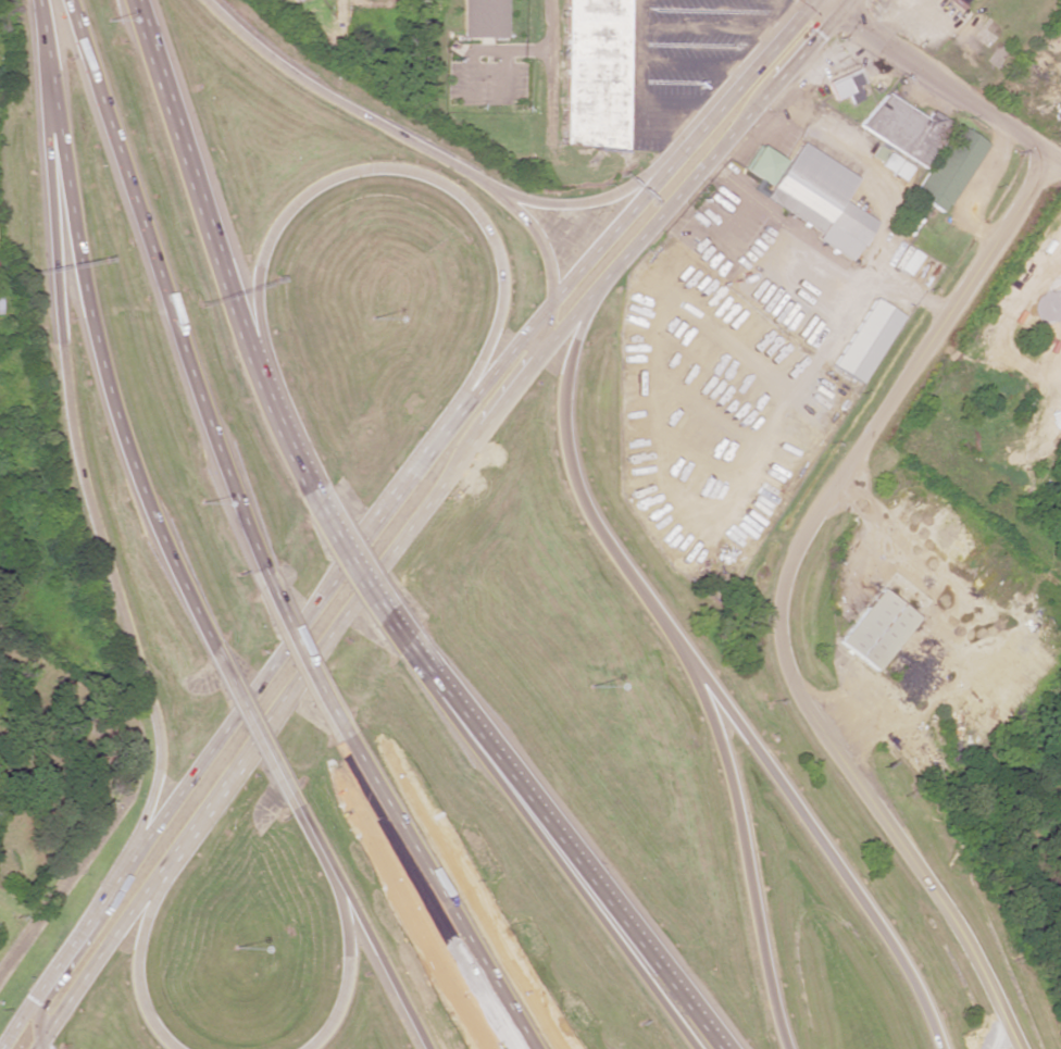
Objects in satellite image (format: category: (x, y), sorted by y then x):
building: (296, 0)
road: (821, 0)
road: (822, 0)
traffic signals: (822, 1)
building: (957, 2)
road: (787, 9)
road: (338, 13)
building: (482, 17)
road: (709, 26)
road: (510, 50)
parking lot: (678, 58)
road: (692, 64)
building: (595, 72)
road: (936, 79)
parking lot: (487, 80)
building: (845, 86)
road: (552, 90)
road: (636, 91)
road: (485, 99)
building: (902, 127)
road: (430, 148)
road: (113, 151)
road: (1056, 162)
road: (372, 167)
building: (949, 168)
building: (811, 195)
road: (585, 201)
road: (635, 204)
road: (203, 220)
road: (95, 332)
building: (865, 340)
road: (495, 416)
road: (213, 436)
road: (74, 448)
road: (300, 469)
road: (361, 574)
road: (785, 598)
building: (877, 629)
road: (304, 653)
road: (704, 674)
road: (251, 723)
road: (225, 730)
road: (309, 829)
road: (739, 829)
road: (554, 836)
road: (441, 892)
road: (104, 946)
road: (138, 949)
road: (377, 956)
road: (346, 960)
road: (37, 1015)
road: (706, 1038)
road: (709, 1038)

